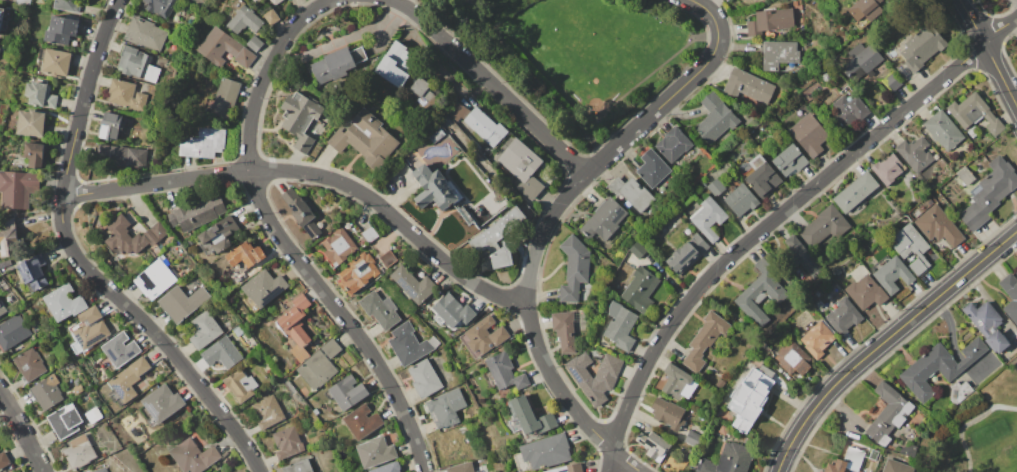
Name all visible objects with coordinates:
building: (255, 1)
building: (22, 2)
building: (274, 2)
road: (400, 4)
building: (68, 5)
building: (236, 5)
building: (159, 7)
building: (866, 9)
building: (1, 13)
building: (270, 16)
building: (773, 18)
building: (244, 20)
building: (3, 25)
building: (61, 29)
building: (144, 33)
building: (0, 42)
building: (254, 43)
building: (1016, 46)
building: (921, 47)
building: (853, 49)
building: (225, 50)
road: (988, 52)
building: (778, 54)
park: (585, 57)
building: (2, 59)
building: (56, 61)
building: (336, 63)
building: (396, 64)
building: (861, 64)
building: (137, 66)
road: (265, 71)
road: (655, 72)
building: (904, 73)
building: (825, 77)
road: (528, 82)
building: (892, 82)
building: (747, 85)
building: (842, 86)
road: (498, 89)
building: (423, 94)
building: (40, 95)
building: (125, 95)
road: (84, 96)
building: (223, 99)
building: (457, 110)
building: (848, 111)
building: (975, 114)
building: (715, 118)
building: (302, 120)
building: (30, 122)
building: (110, 126)
building: (484, 126)
building: (943, 130)
building: (435, 134)
building: (809, 135)
road: (628, 138)
building: (366, 139)
building: (202, 143)
building: (672, 143)
building: (915, 153)
building: (34, 155)
building: (121, 156)
building: (789, 160)
building: (521, 166)
building: (651, 168)
building: (887, 168)
building: (965, 175)
building: (761, 176)
building: (715, 187)
building: (17, 188)
building: (432, 188)
building: (856, 191)
building: (631, 192)
building: (988, 193)
building: (739, 198)
building: (299, 211)
building: (196, 213)
building: (704, 215)
road: (777, 216)
building: (603, 220)
road: (402, 226)
building: (823, 226)
building: (938, 226)
building: (155, 232)
building: (368, 233)
building: (217, 235)
building: (8, 237)
building: (124, 237)
building: (498, 237)
building: (189, 242)
building: (159, 246)
building: (338, 247)
building: (911, 248)
building: (636, 250)
building: (687, 252)
building: (243, 257)
building: (803, 257)
building: (387, 258)
building: (6, 264)
building: (573, 268)
building: (358, 272)
building: (889, 272)
building: (33, 273)
building: (1016, 273)
building: (622, 275)
building: (154, 279)
building: (413, 285)
building: (864, 287)
building: (262, 288)
building: (640, 290)
building: (760, 293)
building: (1010, 295)
building: (593, 300)
building: (182, 302)
building: (62, 303)
building: (2, 308)
building: (380, 310)
building: (452, 310)
building: (842, 315)
road: (341, 317)
building: (987, 325)
building: (620, 326)
building: (295, 327)
building: (566, 328)
building: (88, 329)
building: (203, 329)
building: (237, 331)
building: (12, 332)
road: (153, 334)
building: (483, 336)
building: (817, 338)
building: (704, 340)
road: (884, 340)
building: (316, 341)
building: (433, 342)
building: (407, 343)
building: (601, 343)
building: (331, 348)
building: (762, 350)
building: (117, 351)
building: (222, 353)
building: (792, 358)
building: (28, 364)
building: (948, 367)
building: (316, 370)
building: (504, 372)
building: (594, 375)
building: (424, 378)
building: (127, 380)
building: (677, 382)
building: (719, 383)
building: (240, 385)
building: (346, 392)
building: (958, 392)
building: (46, 393)
building: (749, 396)
building: (160, 405)
building: (445, 408)
building: (268, 411)
building: (315, 411)
building: (667, 413)
building: (887, 414)
building: (93, 415)
building: (529, 416)
building: (64, 421)
building: (362, 421)
park: (978, 429)
road: (21, 432)
building: (691, 438)
building: (286, 442)
building: (653, 446)
building: (908, 449)
building: (376, 451)
building: (78, 452)
building: (542, 453)
building: (103, 454)
building: (873, 454)
building: (193, 456)
building: (727, 459)
building: (3, 460)
building: (846, 461)
building: (298, 466)
building: (896, 466)
building: (387, 467)
building: (460, 467)
building: (567, 469)
building: (100, 470)
building: (820, 471)

